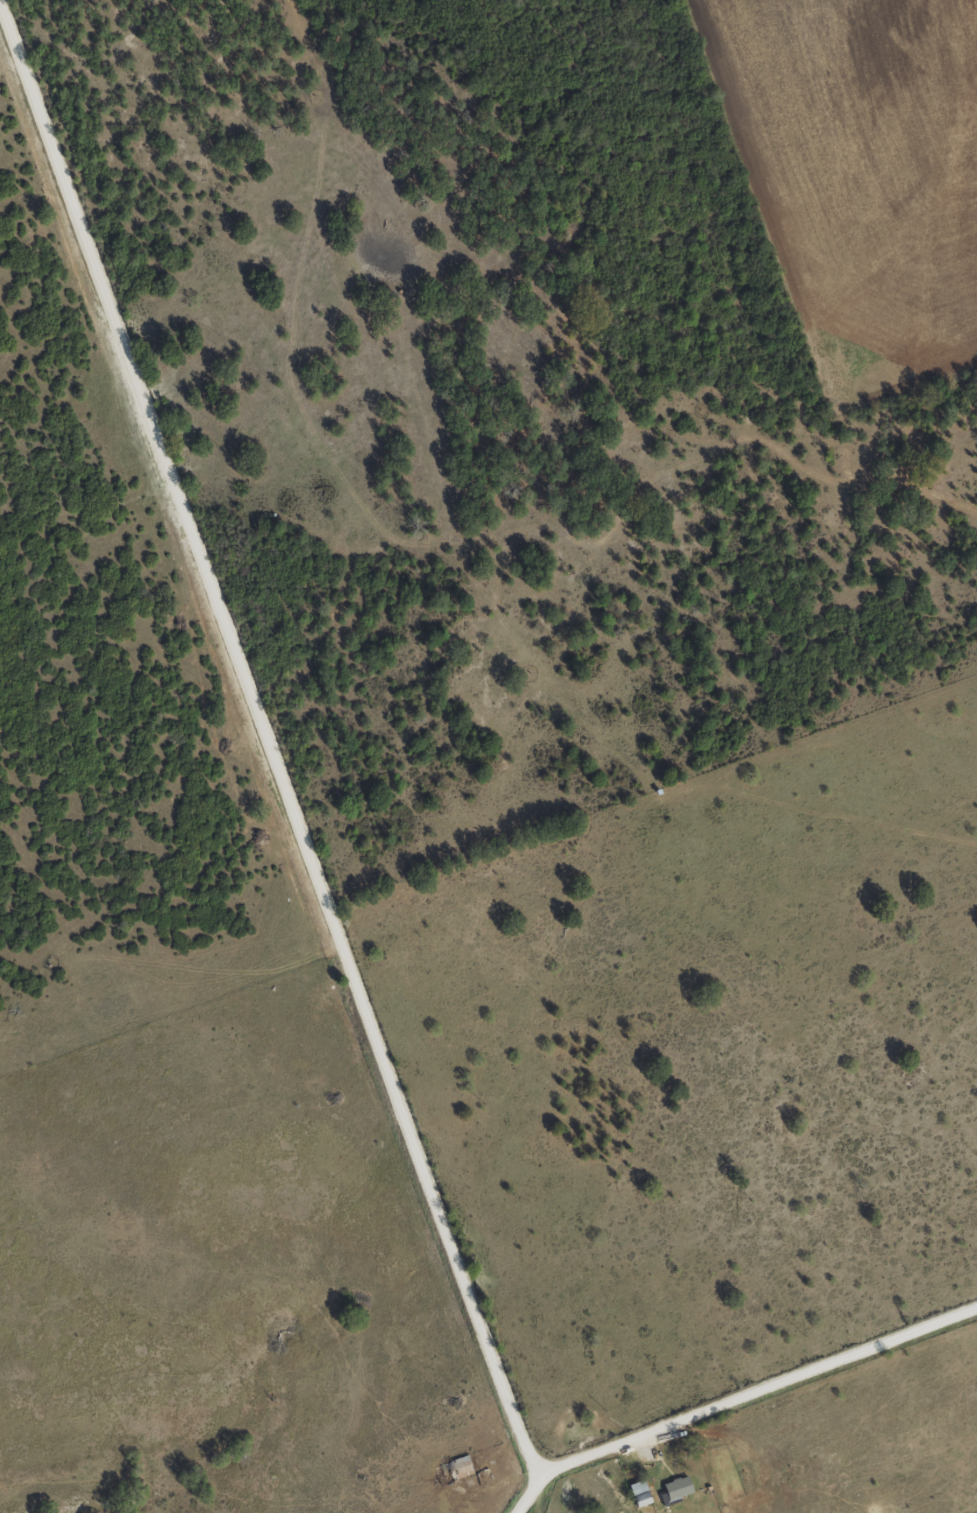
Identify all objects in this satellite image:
road: (273, 771)
road: (755, 1386)
road: (752, 1450)
building: (451, 1469)
building: (675, 1489)
road: (521, 1493)
building: (637, 1493)

